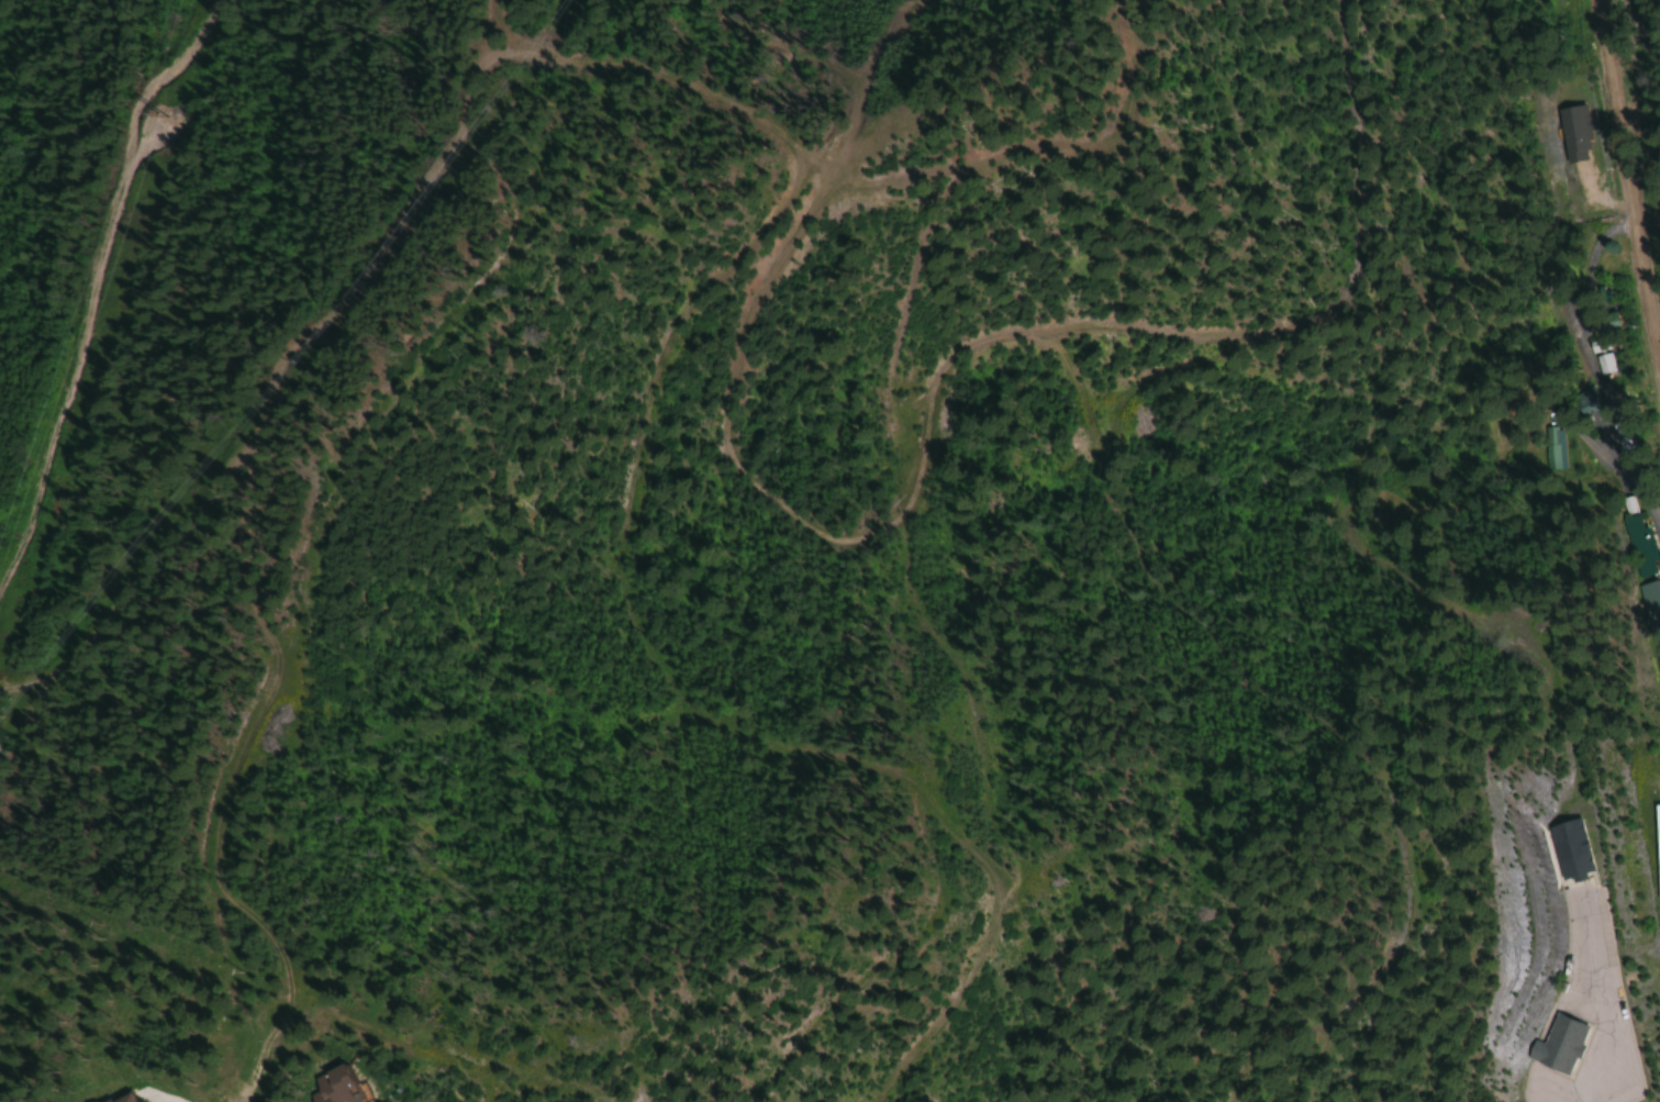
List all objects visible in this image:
building: (1571, 113)
road: (1629, 172)
building: (1605, 325)
building: (1585, 407)
building: (1625, 445)
building: (1552, 449)
building: (1658, 501)
building: (1637, 542)
building: (1650, 603)
building: (1658, 665)
building: (1566, 849)
building: (1657, 849)
building: (1556, 1045)
building: (324, 1087)
building: (103, 1101)

